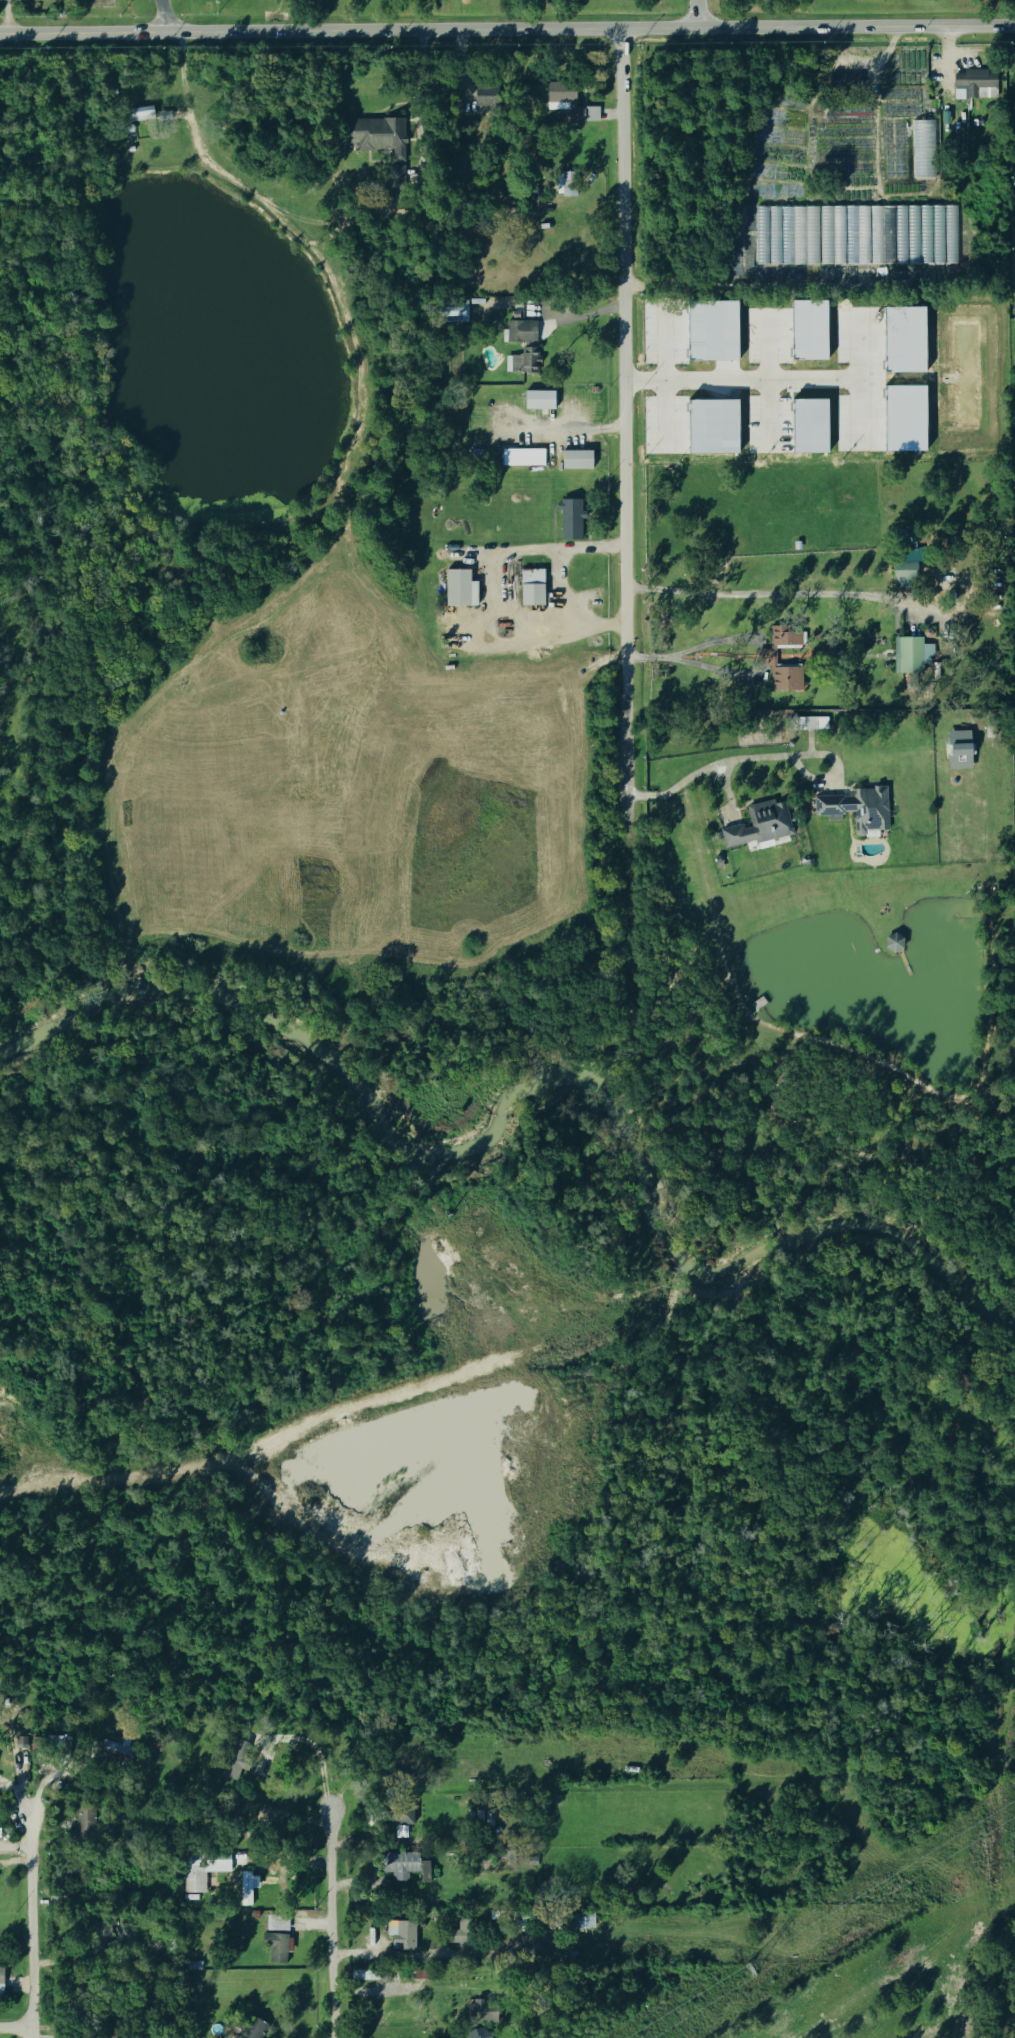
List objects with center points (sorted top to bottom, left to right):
road: (162, 3)
road: (695, 14)
road: (9, 16)
road: (507, 29)
road: (942, 70)
road: (415, 82)
building: (974, 86)
building: (477, 98)
building: (562, 103)
building: (139, 115)
building: (922, 150)
building: (564, 185)
road: (287, 208)
building: (855, 236)
building: (454, 313)
building: (516, 314)
road: (586, 316)
building: (809, 330)
building: (522, 331)
building: (713, 331)
building: (904, 340)
road: (771, 382)
building: (540, 400)
building: (905, 419)
building: (810, 425)
building: (713, 426)
road: (563, 434)
building: (523, 457)
building: (578, 460)
building: (569, 520)
road: (631, 528)
road: (538, 551)
building: (903, 569)
road: (494, 581)
building: (458, 587)
building: (530, 588)
road: (560, 592)
road: (768, 593)
road: (561, 633)
building: (784, 637)
road: (722, 640)
road: (767, 655)
building: (910, 656)
road: (702, 666)
building: (778, 673)
building: (809, 724)
building: (959, 749)
road: (729, 761)
building: (856, 810)
building: (758, 826)
building: (892, 944)
river: (536, 1084)
building: (484, 1818)
building: (84, 1824)
building: (403, 1867)
building: (202, 1871)
building: (246, 1888)
building: (276, 1924)
road: (332, 1924)
road: (32, 1926)
building: (401, 1935)
building: (459, 1935)
park: (1010, 1937)
building: (275, 1947)
road: (432, 1954)
power tower: (748, 1973)
building: (0, 1980)
building: (479, 2014)
road: (16, 2027)
building: (254, 2029)
building: (476, 2033)
building: (228, 2037)

